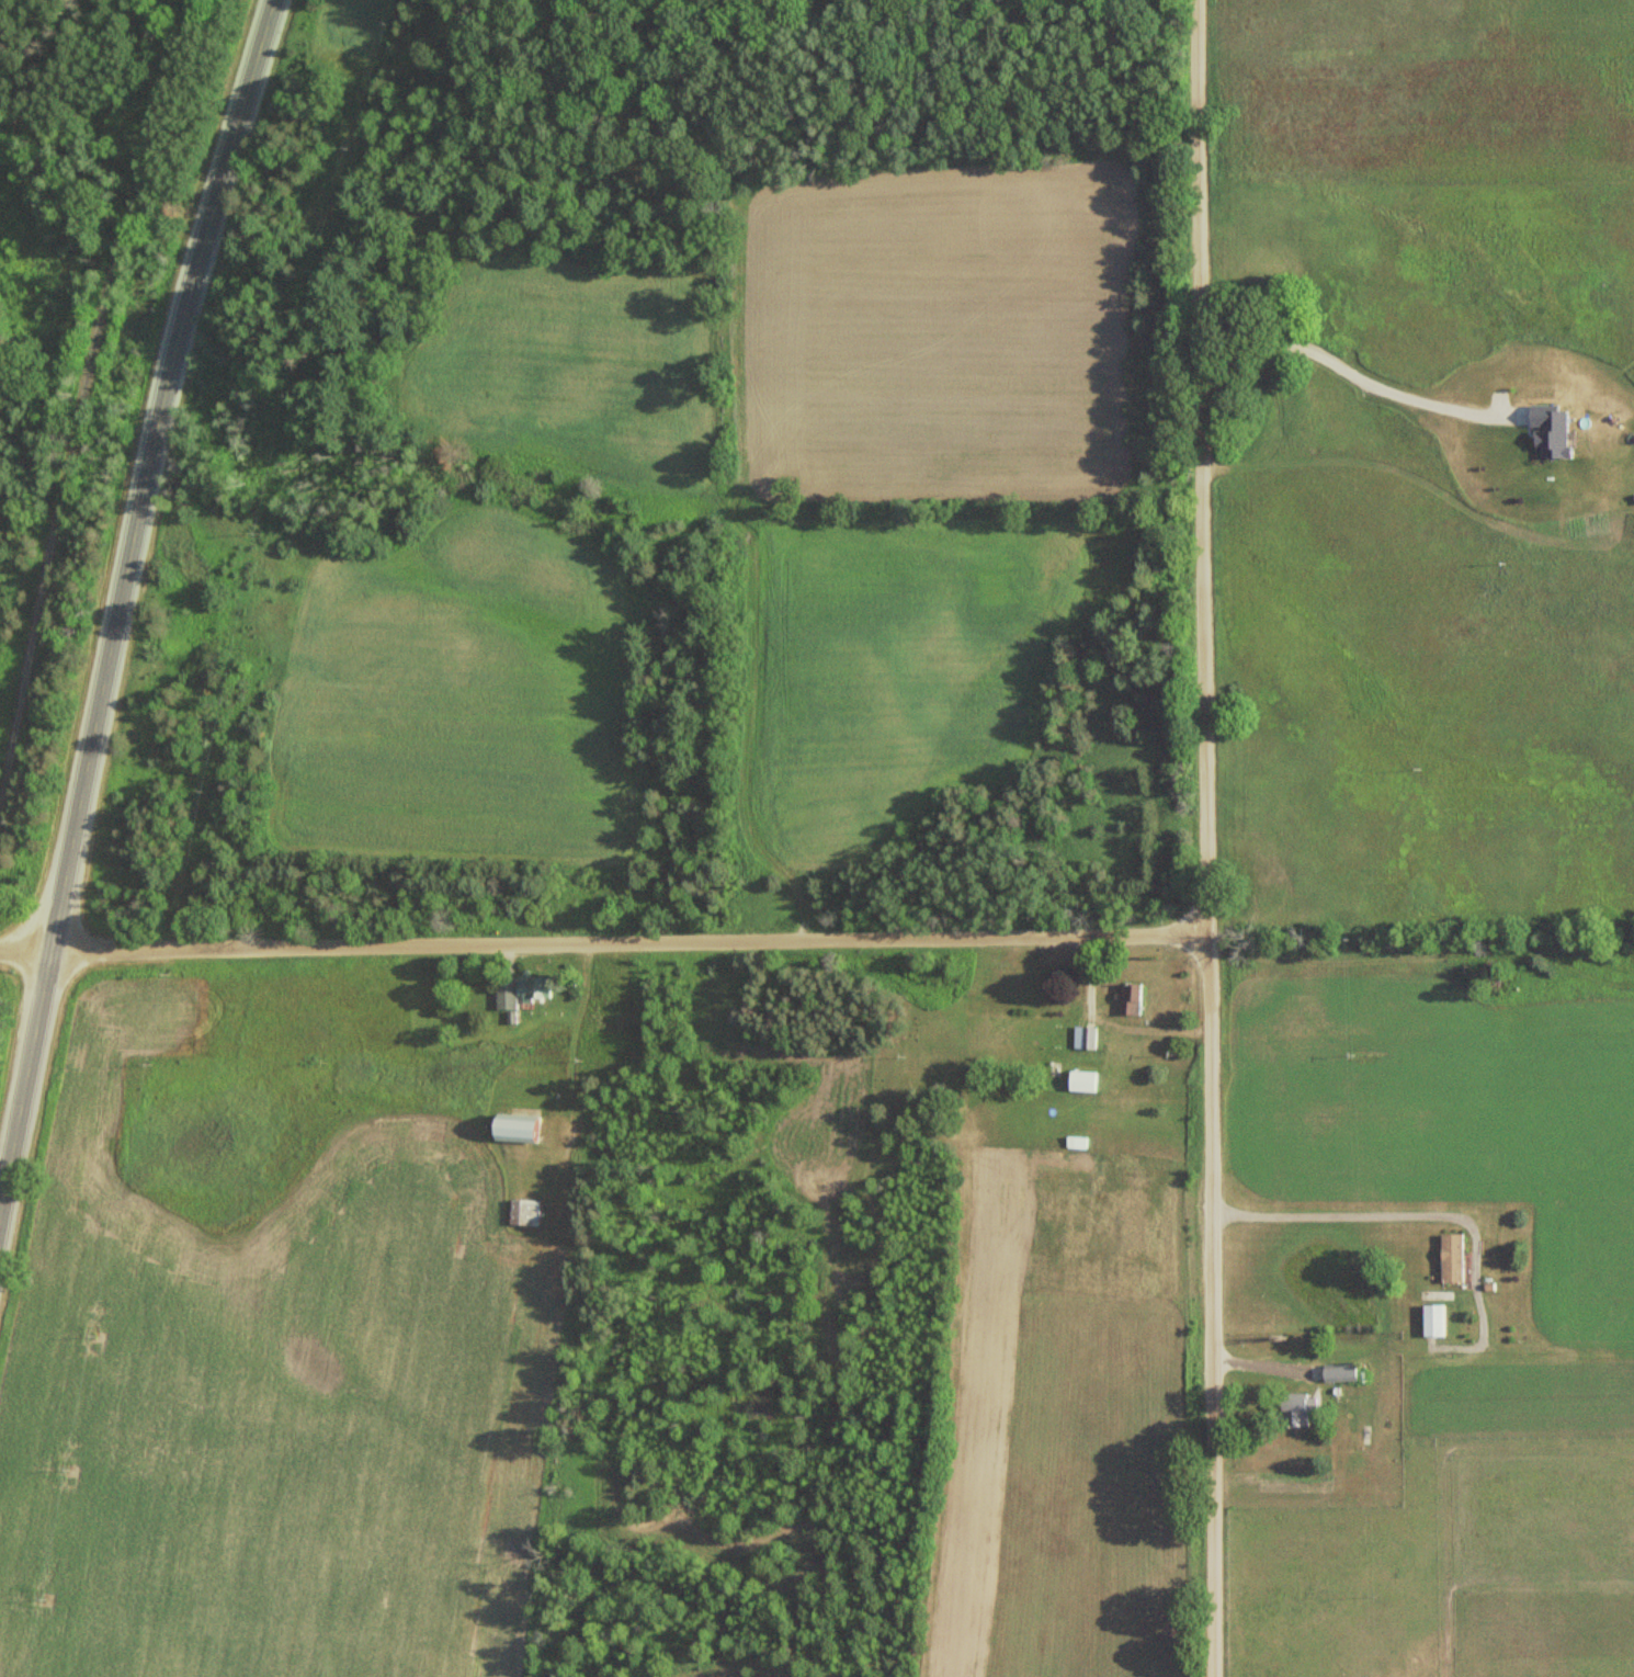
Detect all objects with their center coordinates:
road: (1348, 361)
road: (91, 405)
road: (121, 602)
road: (1202, 838)
road: (601, 947)
building: (1126, 999)
building: (501, 1001)
building: (1081, 1038)
building: (1078, 1081)
building: (509, 1125)
building: (521, 1213)
road: (1398, 1215)
building: (1449, 1259)
building: (1430, 1321)
building: (1335, 1374)
building: (1292, 1409)

